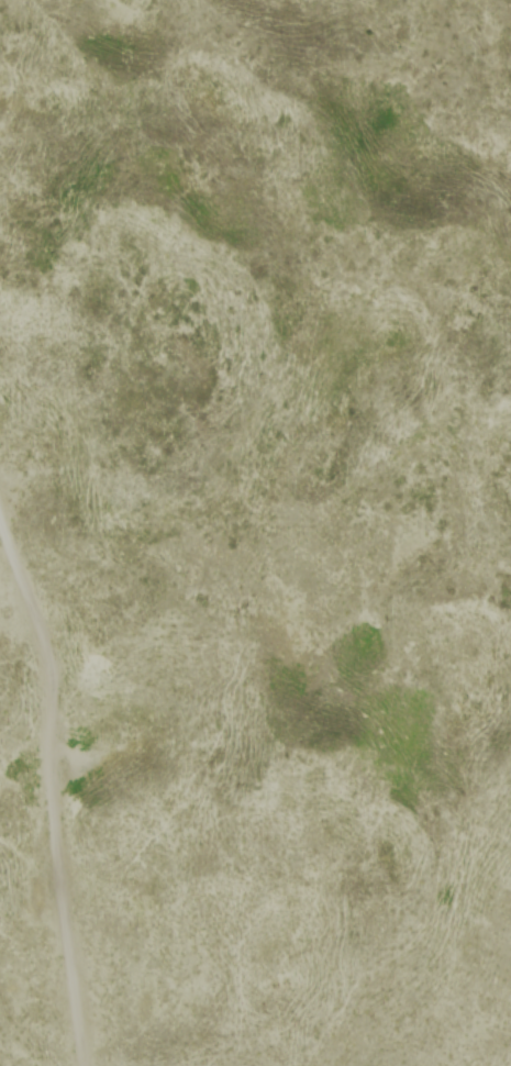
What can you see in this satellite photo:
road: (58, 791)

